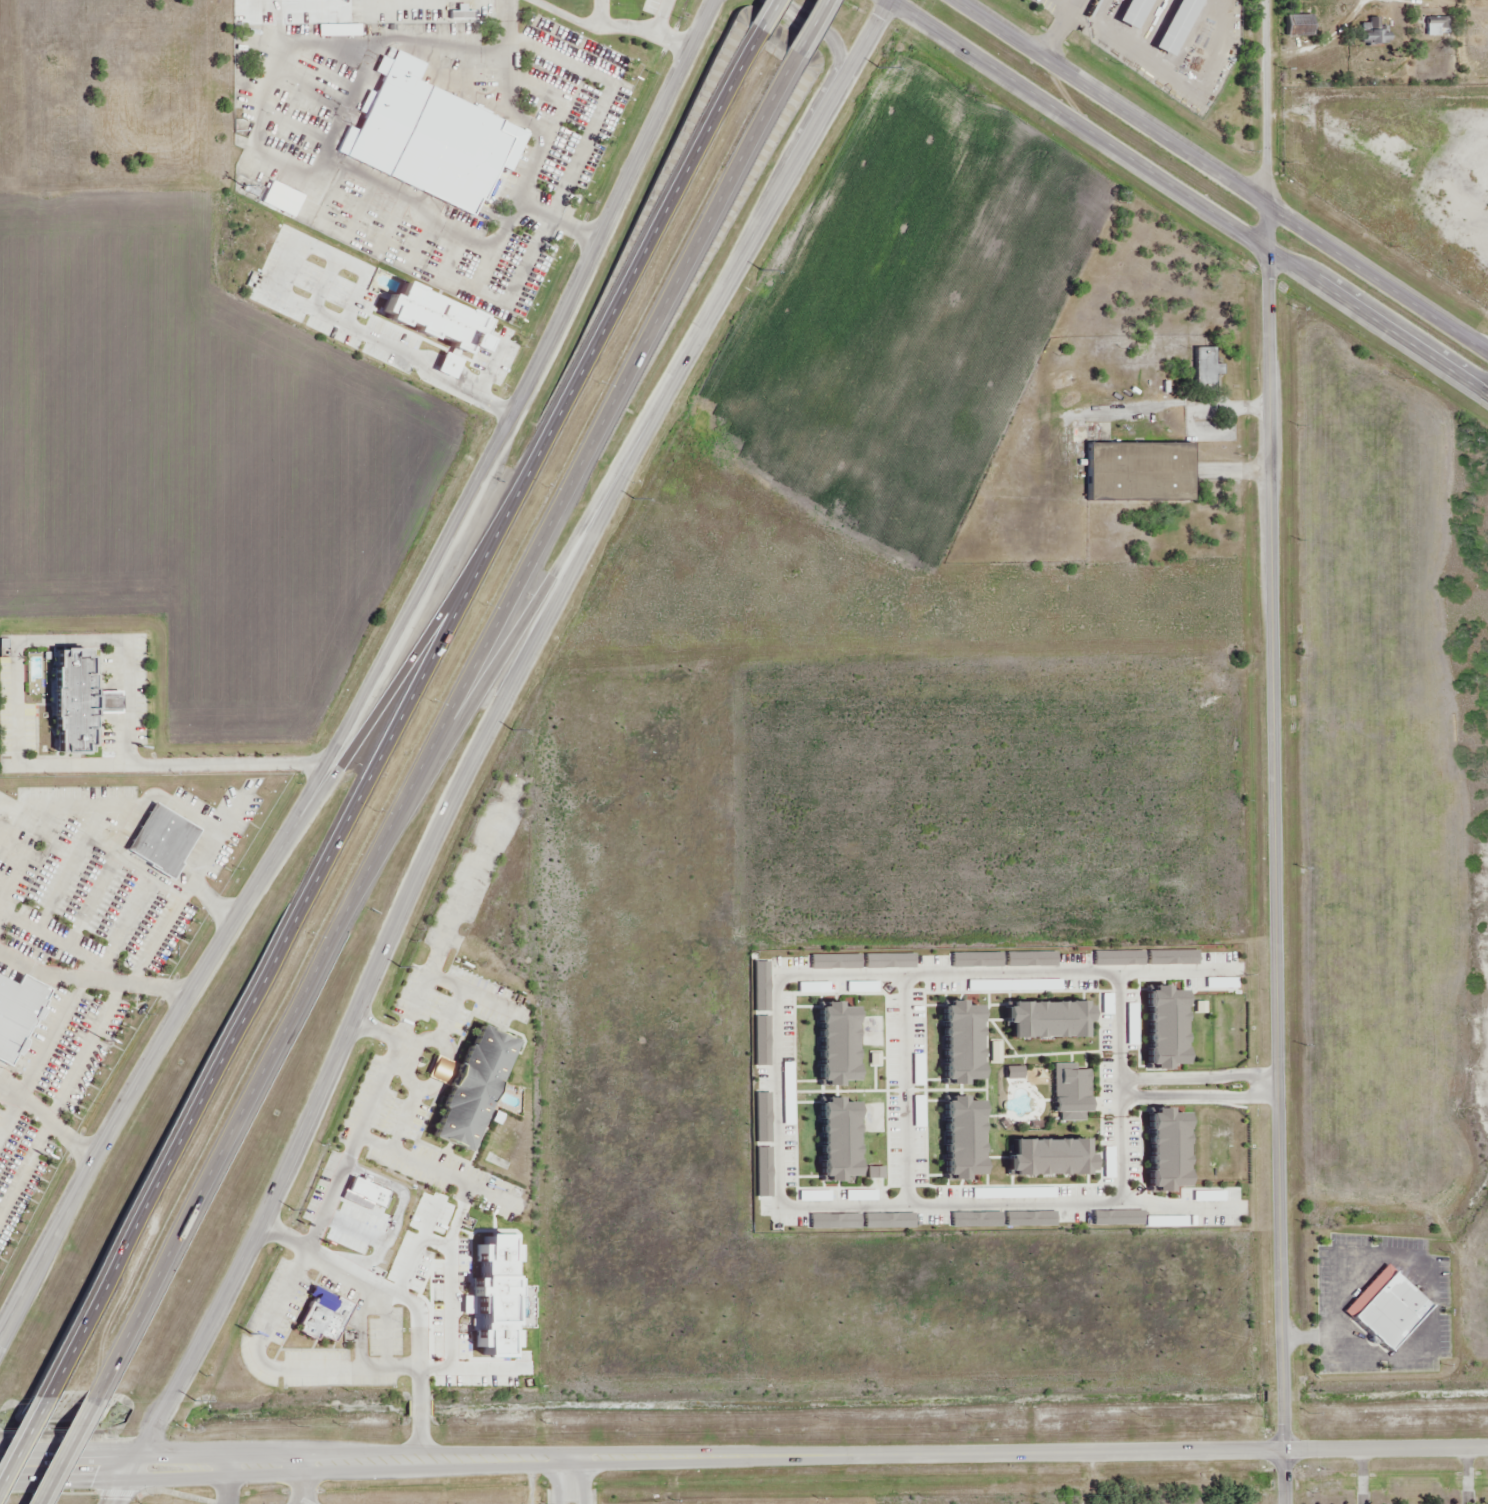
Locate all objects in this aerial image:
building: (1137, 13)
road: (758, 21)
building: (1179, 26)
building: (1299, 28)
road: (826, 29)
road: (661, 34)
road: (803, 34)
power tower: (877, 66)
road: (503, 78)
road: (1265, 102)
building: (434, 139)
road: (347, 173)
road: (1222, 174)
road: (1190, 198)
road: (559, 220)
power tower: (761, 268)
building: (438, 322)
building: (1208, 369)
building: (1144, 474)
power tower: (634, 499)
road: (423, 627)
road: (499, 672)
road: (377, 680)
building: (73, 701)
road: (399, 719)
power tower: (513, 730)
road: (441, 732)
road: (484, 744)
building: (162, 842)
road: (1277, 853)
road: (158, 934)
building: (1002, 960)
building: (1144, 960)
building: (860, 961)
power tower: (401, 967)
road: (1170, 970)
road: (781, 976)
building: (18, 1014)
building: (760, 1015)
building: (1050, 1019)
building: (1167, 1026)
building: (966, 1040)
building: (844, 1044)
road: (70, 1073)
road: (1191, 1075)
road: (1271, 1085)
road: (904, 1088)
building: (477, 1089)
building: (1070, 1092)
road: (1193, 1097)
building: (965, 1139)
building: (841, 1141)
road: (351, 1146)
building: (763, 1148)
building: (1171, 1154)
building: (1052, 1155)
road: (24, 1166)
building: (368, 1191)
road: (1117, 1201)
road: (1170, 1205)
power tower: (294, 1209)
building: (1003, 1219)
building: (860, 1221)
building: (1139, 1221)
building: (497, 1298)
building: (1385, 1308)
building: (329, 1317)
power tower: (195, 1399)
road: (21, 1435)
road: (63, 1449)
road: (812, 1455)
road: (67, 1463)
road: (1362, 1477)
road: (1466, 1477)
road: (582, 1480)
road: (565, 1481)

